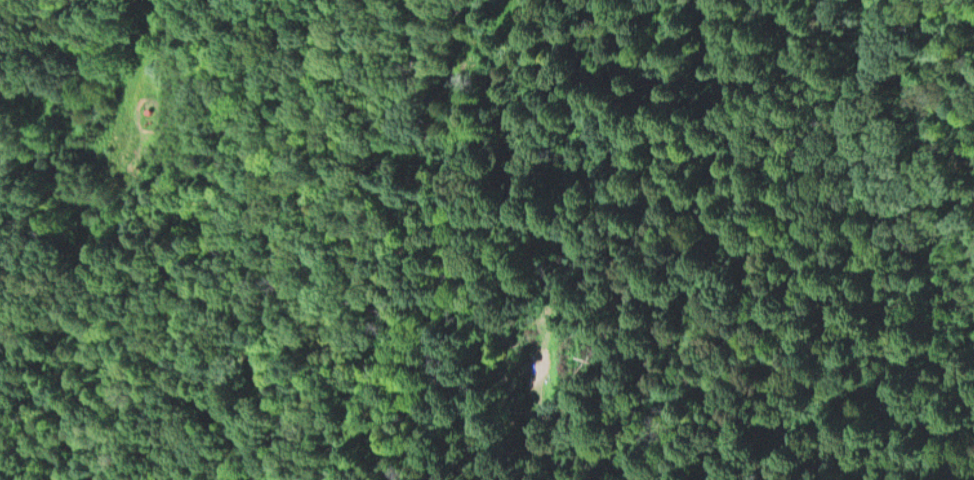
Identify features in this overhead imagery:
road: (142, 50)
road: (397, 240)
building: (530, 375)
road: (720, 446)

